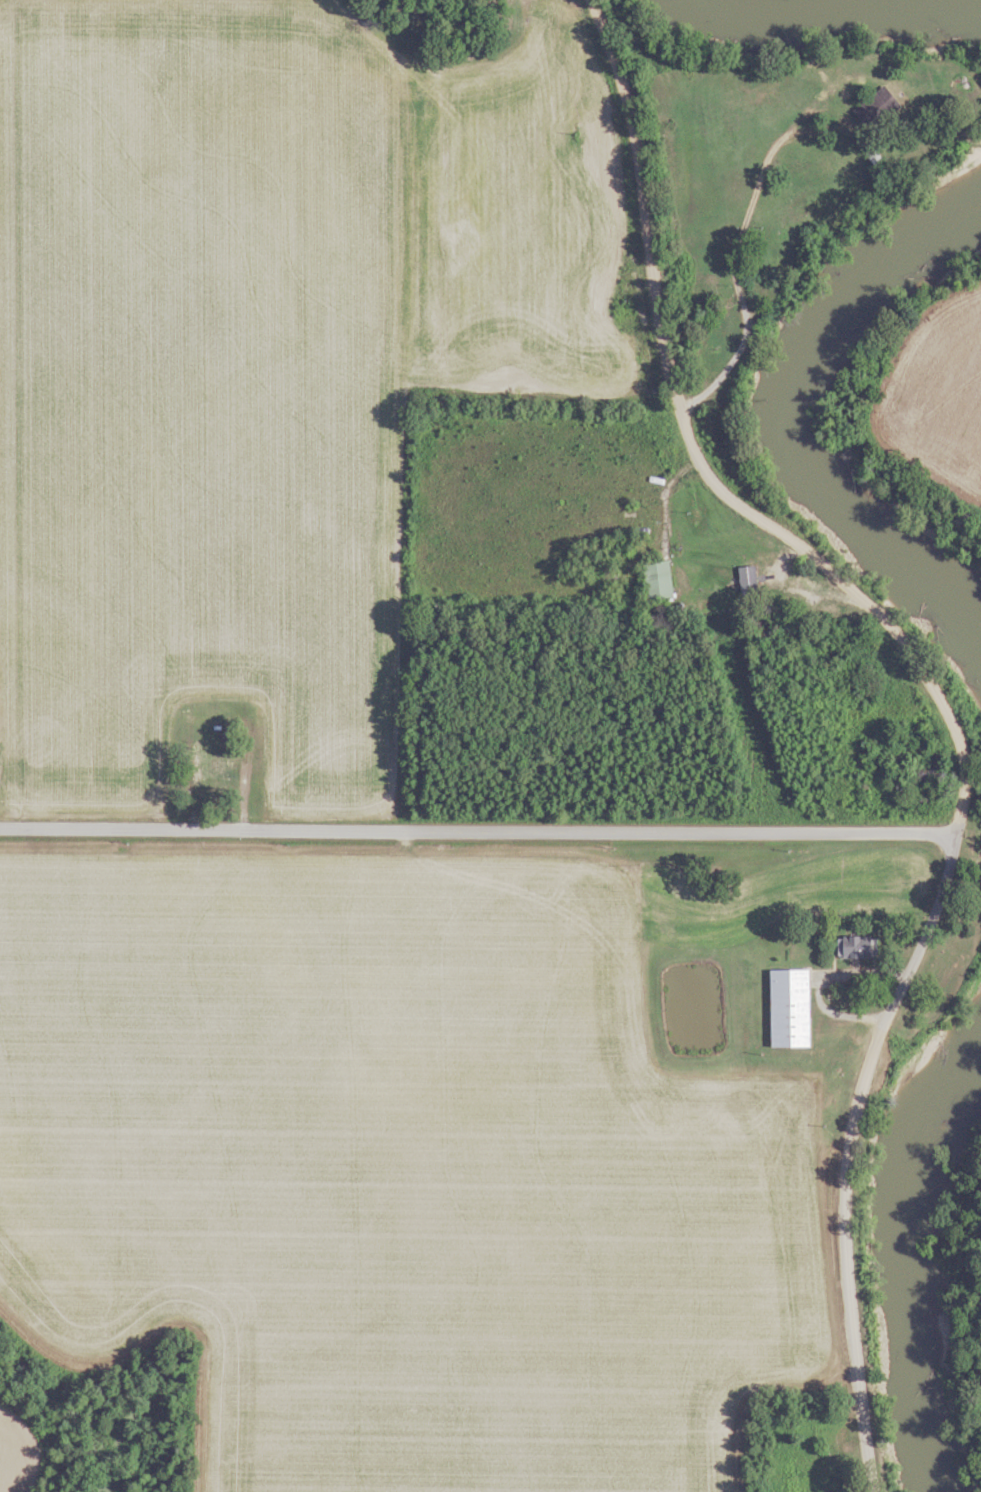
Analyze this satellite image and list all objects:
river: (980, 0)
river: (806, 17)
building: (876, 108)
building: (868, 152)
road: (741, 244)
river: (774, 424)
road: (666, 518)
building: (657, 579)
building: (746, 579)
road: (942, 697)
road: (248, 764)
building: (929, 767)
building: (204, 769)
road: (478, 831)
building: (854, 946)
river: (895, 1242)

